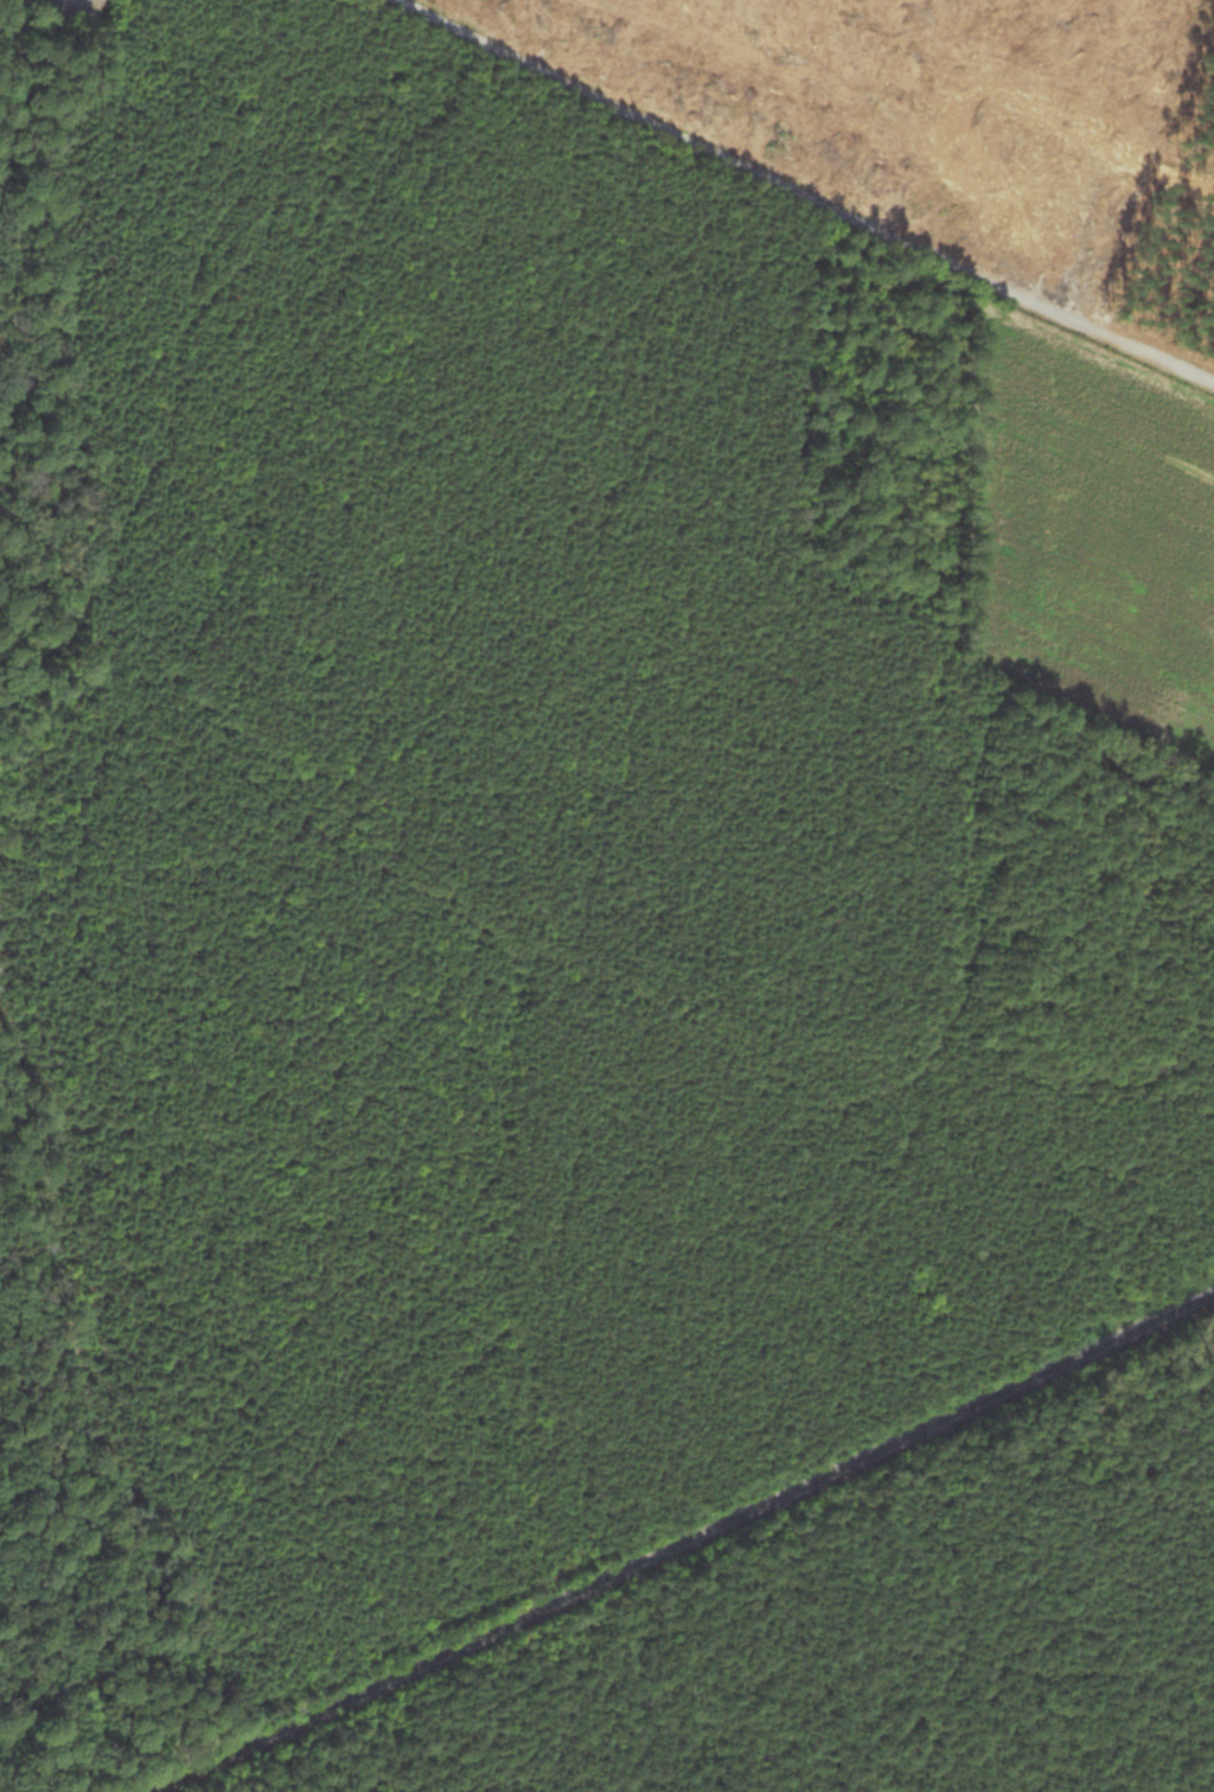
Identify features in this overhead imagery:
road: (811, 189)
railway: (688, 1543)

